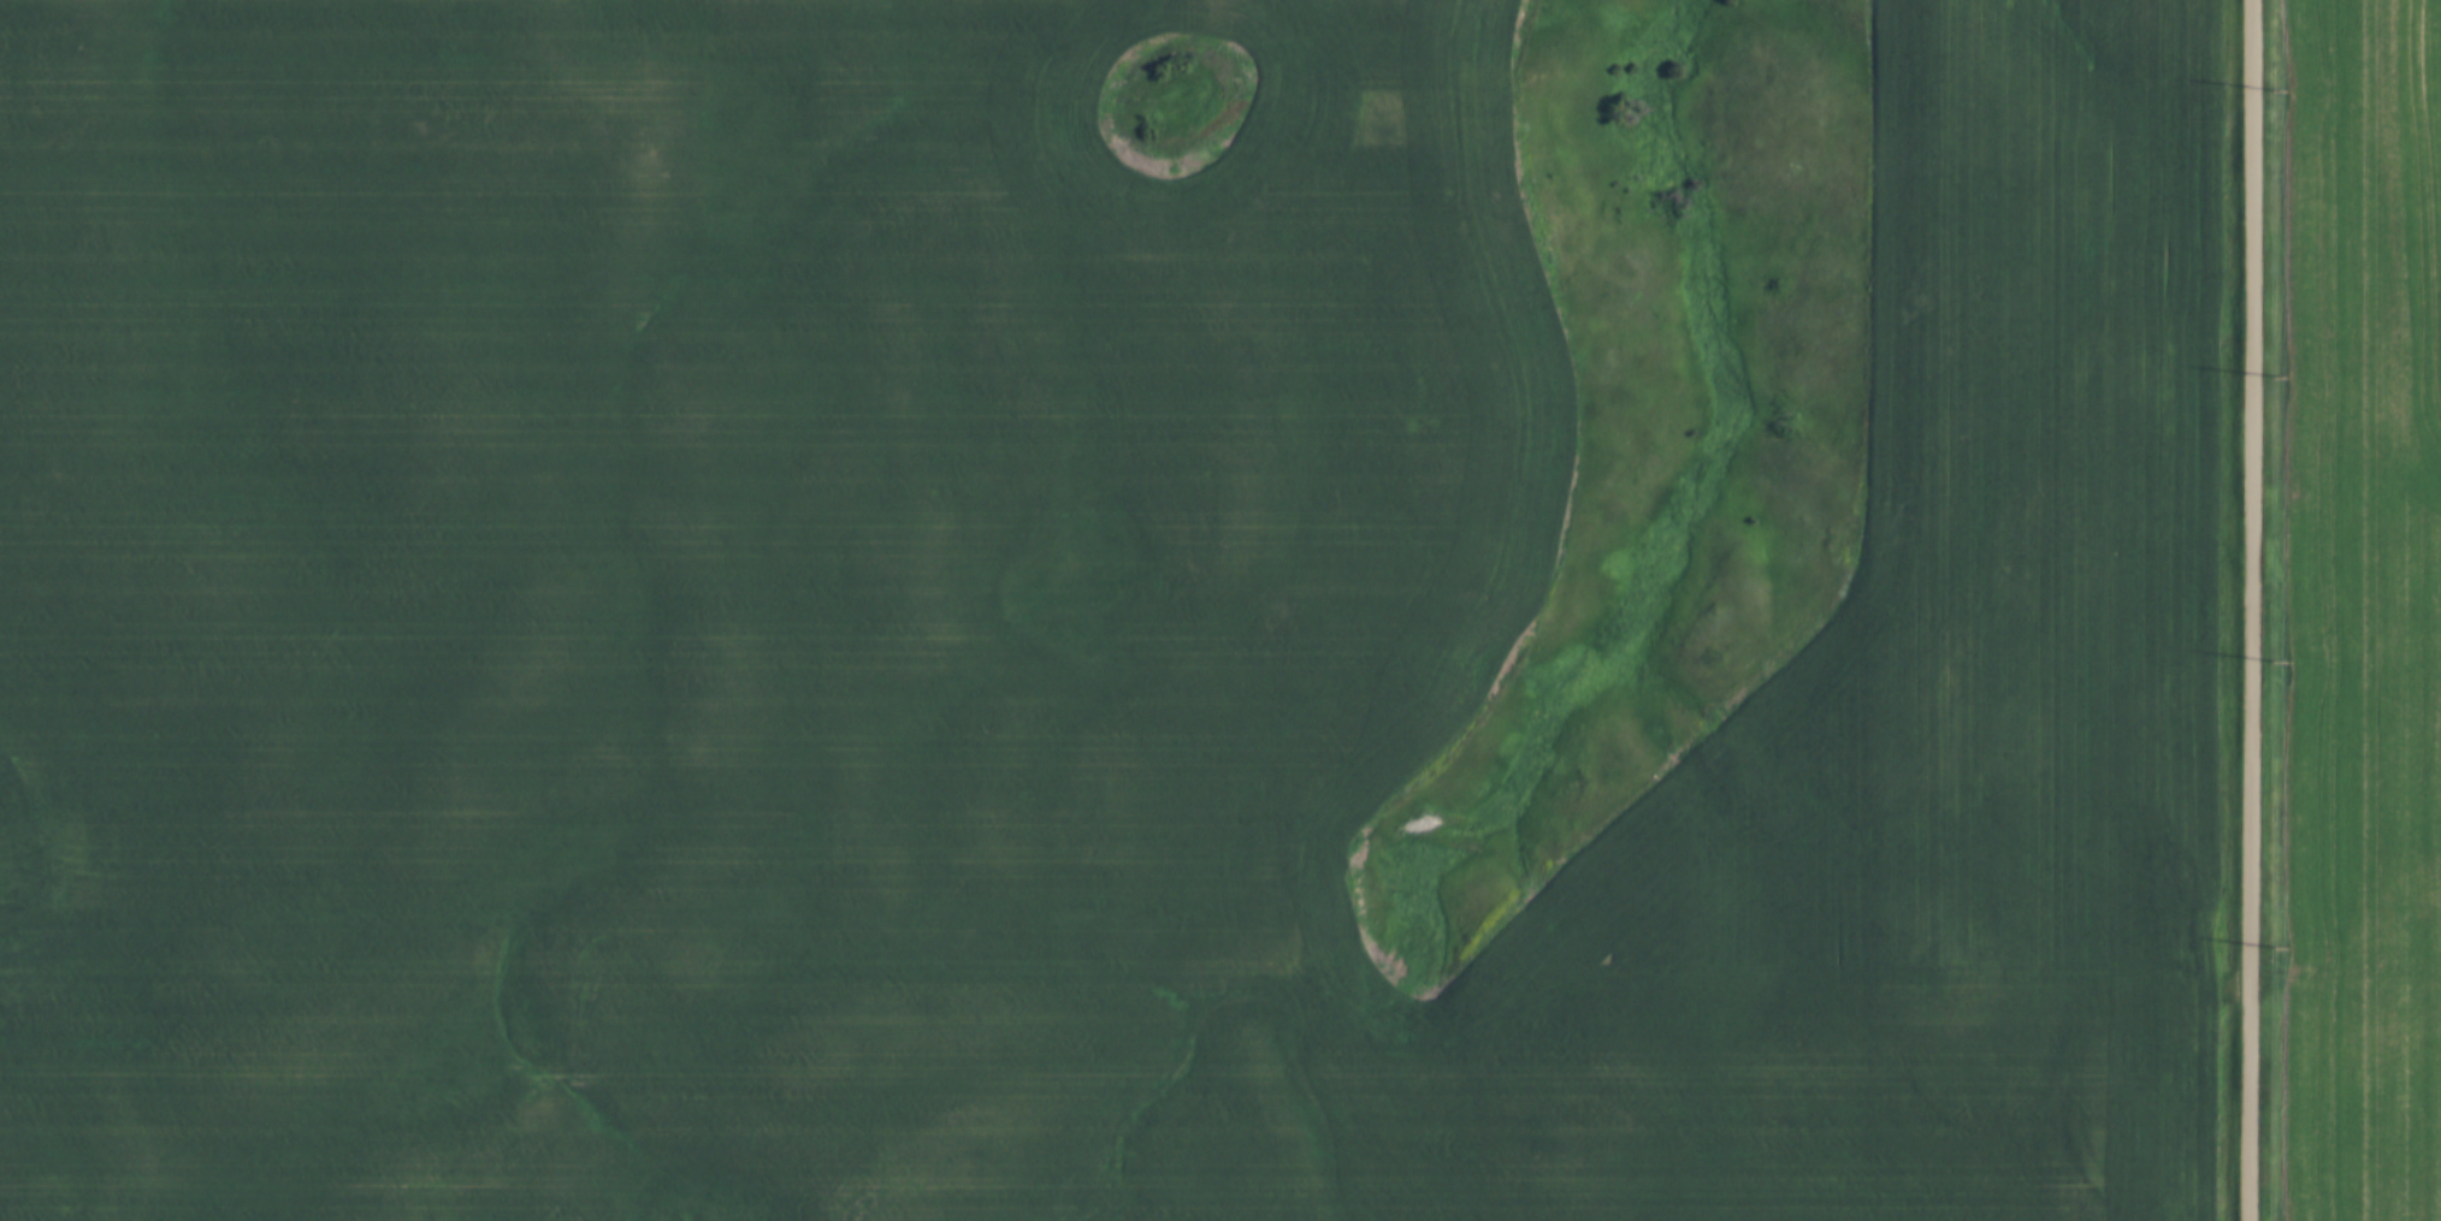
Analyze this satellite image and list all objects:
road: (2254, 610)

